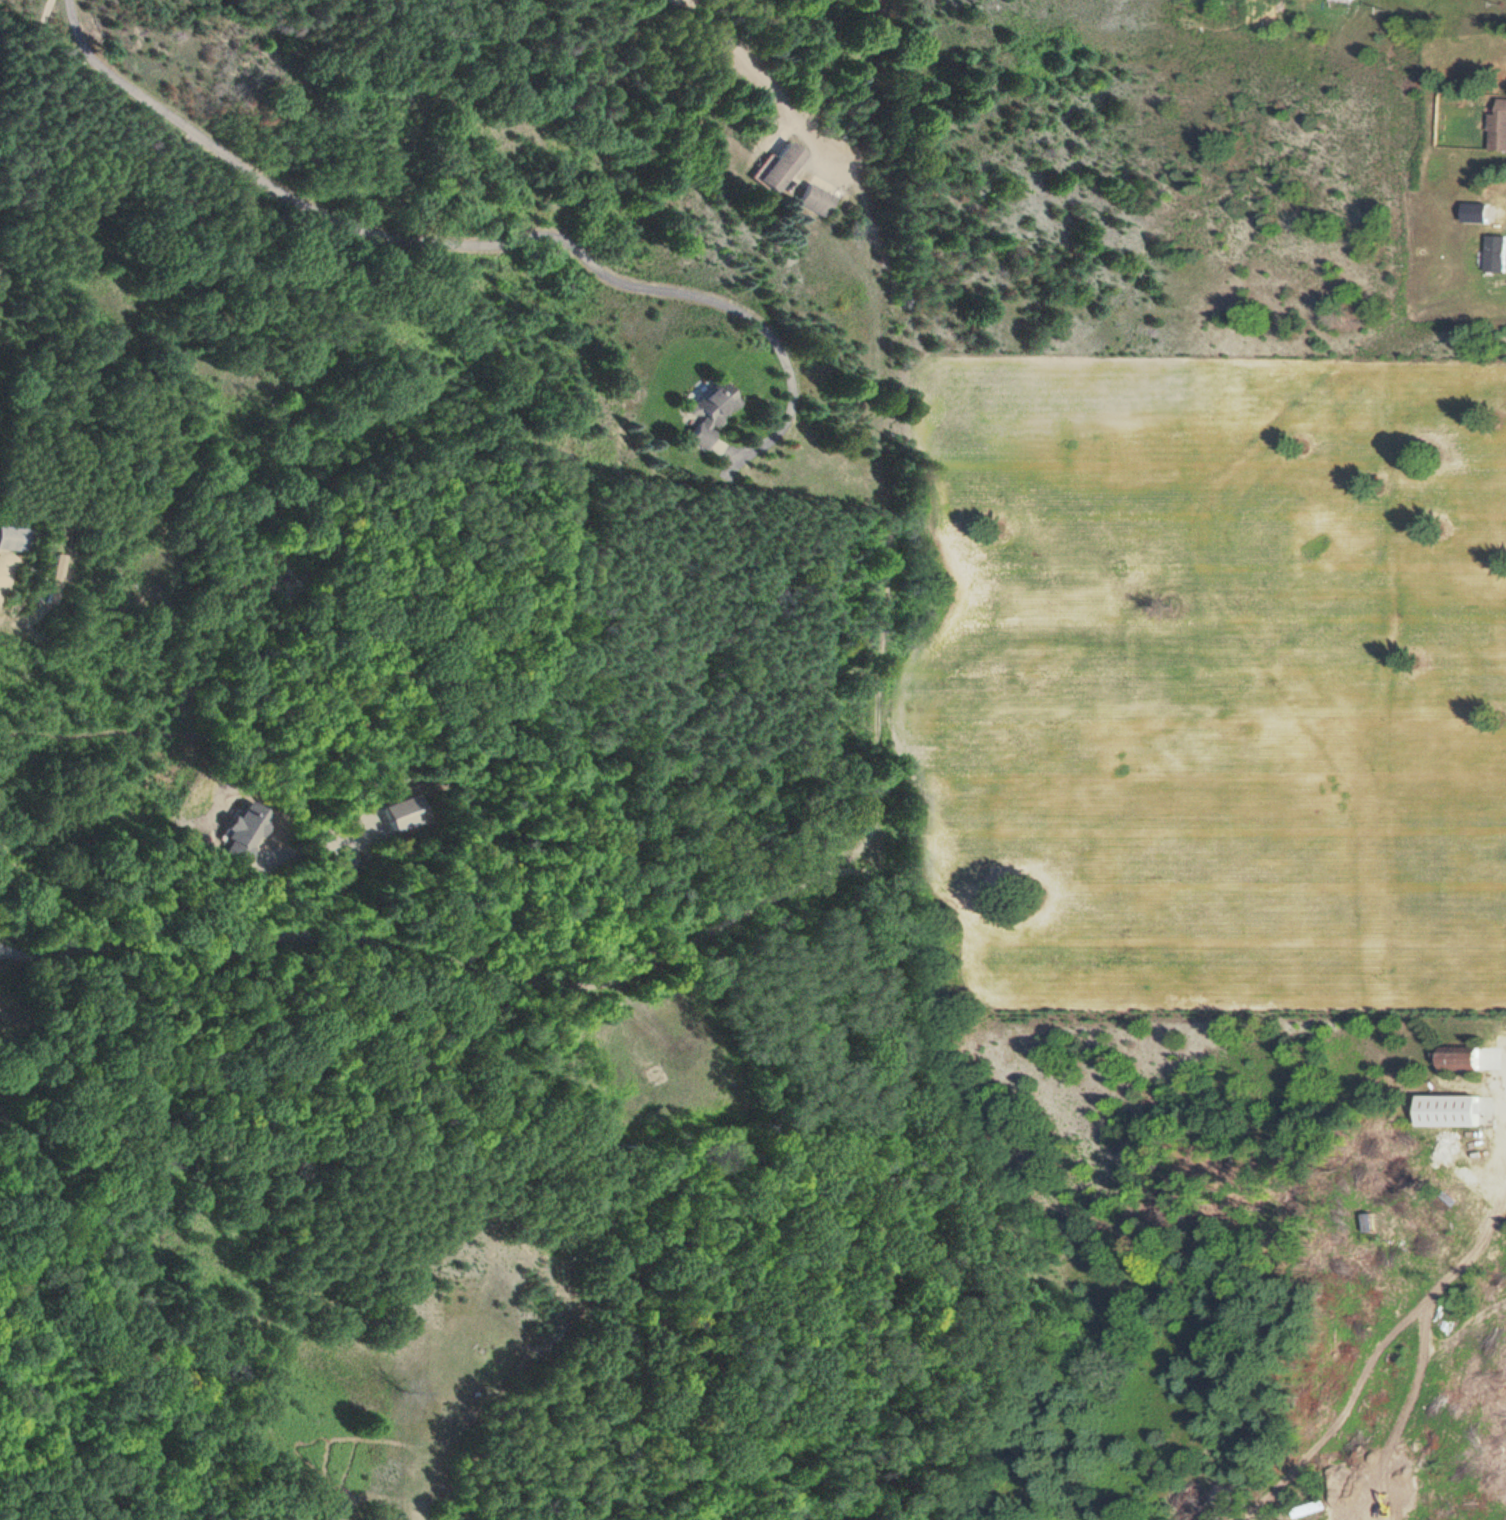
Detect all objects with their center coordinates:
building: (1340, 0)
road: (758, 68)
road: (27, 97)
building: (1499, 125)
building: (779, 168)
building: (814, 201)
road: (465, 247)
building: (1497, 253)
building: (708, 413)
building: (16, 540)
building: (60, 580)
road: (471, 967)
building: (1458, 1059)
building: (1480, 1183)
building: (1472, 1213)
road: (1476, 1421)
building: (1313, 1510)

